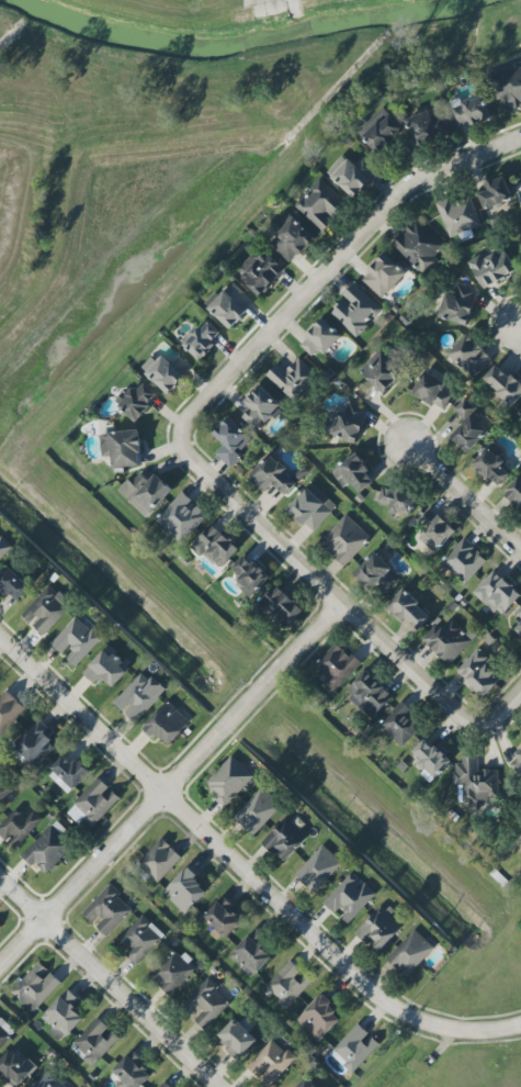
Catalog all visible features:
building: (508, 87)
building: (472, 111)
building: (428, 128)
building: (384, 132)
building: (353, 175)
building: (496, 193)
building: (321, 205)
building: (458, 217)
building: (293, 240)
building: (419, 247)
road: (329, 268)
building: (492, 268)
building: (261, 273)
building: (384, 277)
building: (458, 304)
building: (231, 305)
building: (355, 311)
road: (519, 318)
building: (321, 338)
building: (203, 340)
building: (469, 357)
building: (382, 371)
building: (167, 372)
building: (293, 379)
building: (505, 385)
building: (434, 391)
building: (138, 402)
building: (260, 406)
building: (520, 413)
building: (347, 424)
building: (469, 427)
building: (231, 441)
building: (123, 448)
building: (492, 466)
building: (353, 474)
building: (274, 475)
road: (462, 490)
building: (146, 493)
building: (514, 494)
building: (398, 501)
building: (312, 507)
building: (181, 518)
road: (258, 525)
building: (434, 531)
building: (346, 540)
building: (216, 547)
building: (4, 548)
building: (464, 561)
building: (251, 574)
building: (377, 575)
building: (13, 584)
building: (497, 594)
building: (282, 606)
building: (47, 609)
building: (410, 610)
building: (519, 613)
building: (519, 629)
building: (450, 640)
building: (77, 641)
building: (338, 666)
building: (107, 668)
road: (410, 669)
building: (480, 673)
building: (369, 695)
building: (138, 699)
building: (9, 710)
road: (505, 710)
building: (167, 724)
building: (399, 726)
building: (37, 744)
building: (431, 760)
building: (517, 763)
building: (68, 773)
building: (229, 781)
building: (476, 781)
road: (171, 784)
building: (4, 791)
building: (94, 804)
building: (258, 811)
building: (20, 826)
building: (284, 838)
building: (48, 849)
building: (159, 861)
road: (246, 869)
building: (318, 870)
building: (185, 889)
building: (350, 898)
building: (107, 911)
building: (224, 919)
building: (0, 927)
building: (381, 928)
building: (139, 940)
building: (252, 954)
building: (410, 954)
building: (172, 972)
road: (109, 980)
building: (288, 985)
building: (36, 987)
building: (206, 1005)
building: (64, 1017)
building: (320, 1019)
building: (4, 1033)
building: (237, 1039)
building: (94, 1042)
building: (356, 1047)
building: (271, 1063)
building: (14, 1069)
building: (131, 1073)
building: (46, 1079)
building: (308, 1083)

